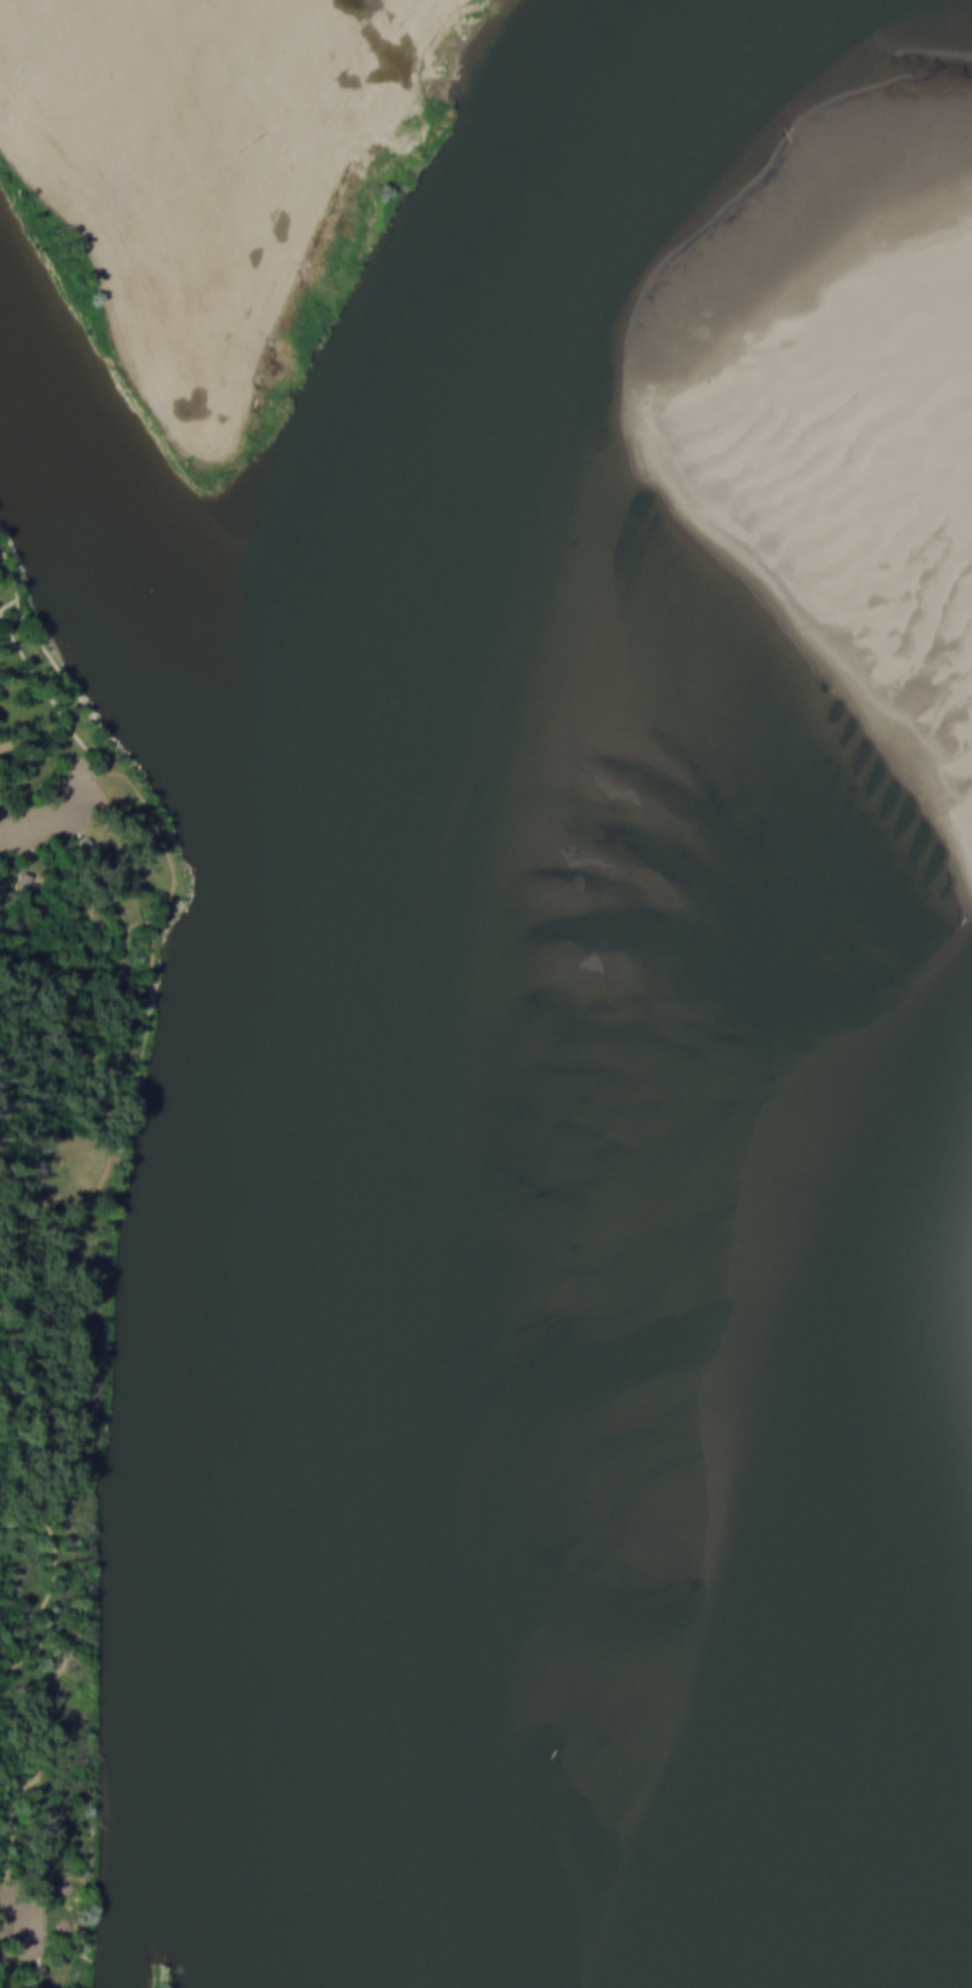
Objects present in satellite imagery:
road: (49, 697)
building: (23, 880)
river: (248, 1149)
park: (68, 1204)
river: (930, 1836)

